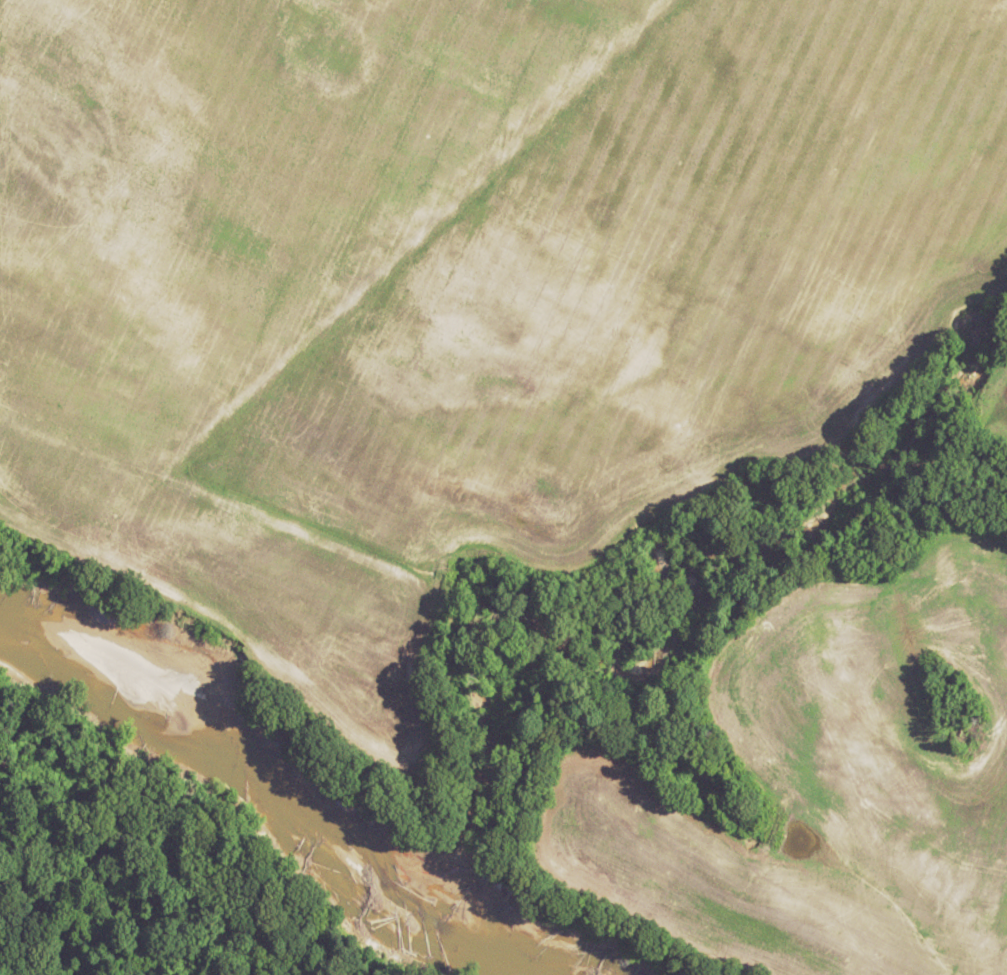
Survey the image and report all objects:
river: (290, 804)

